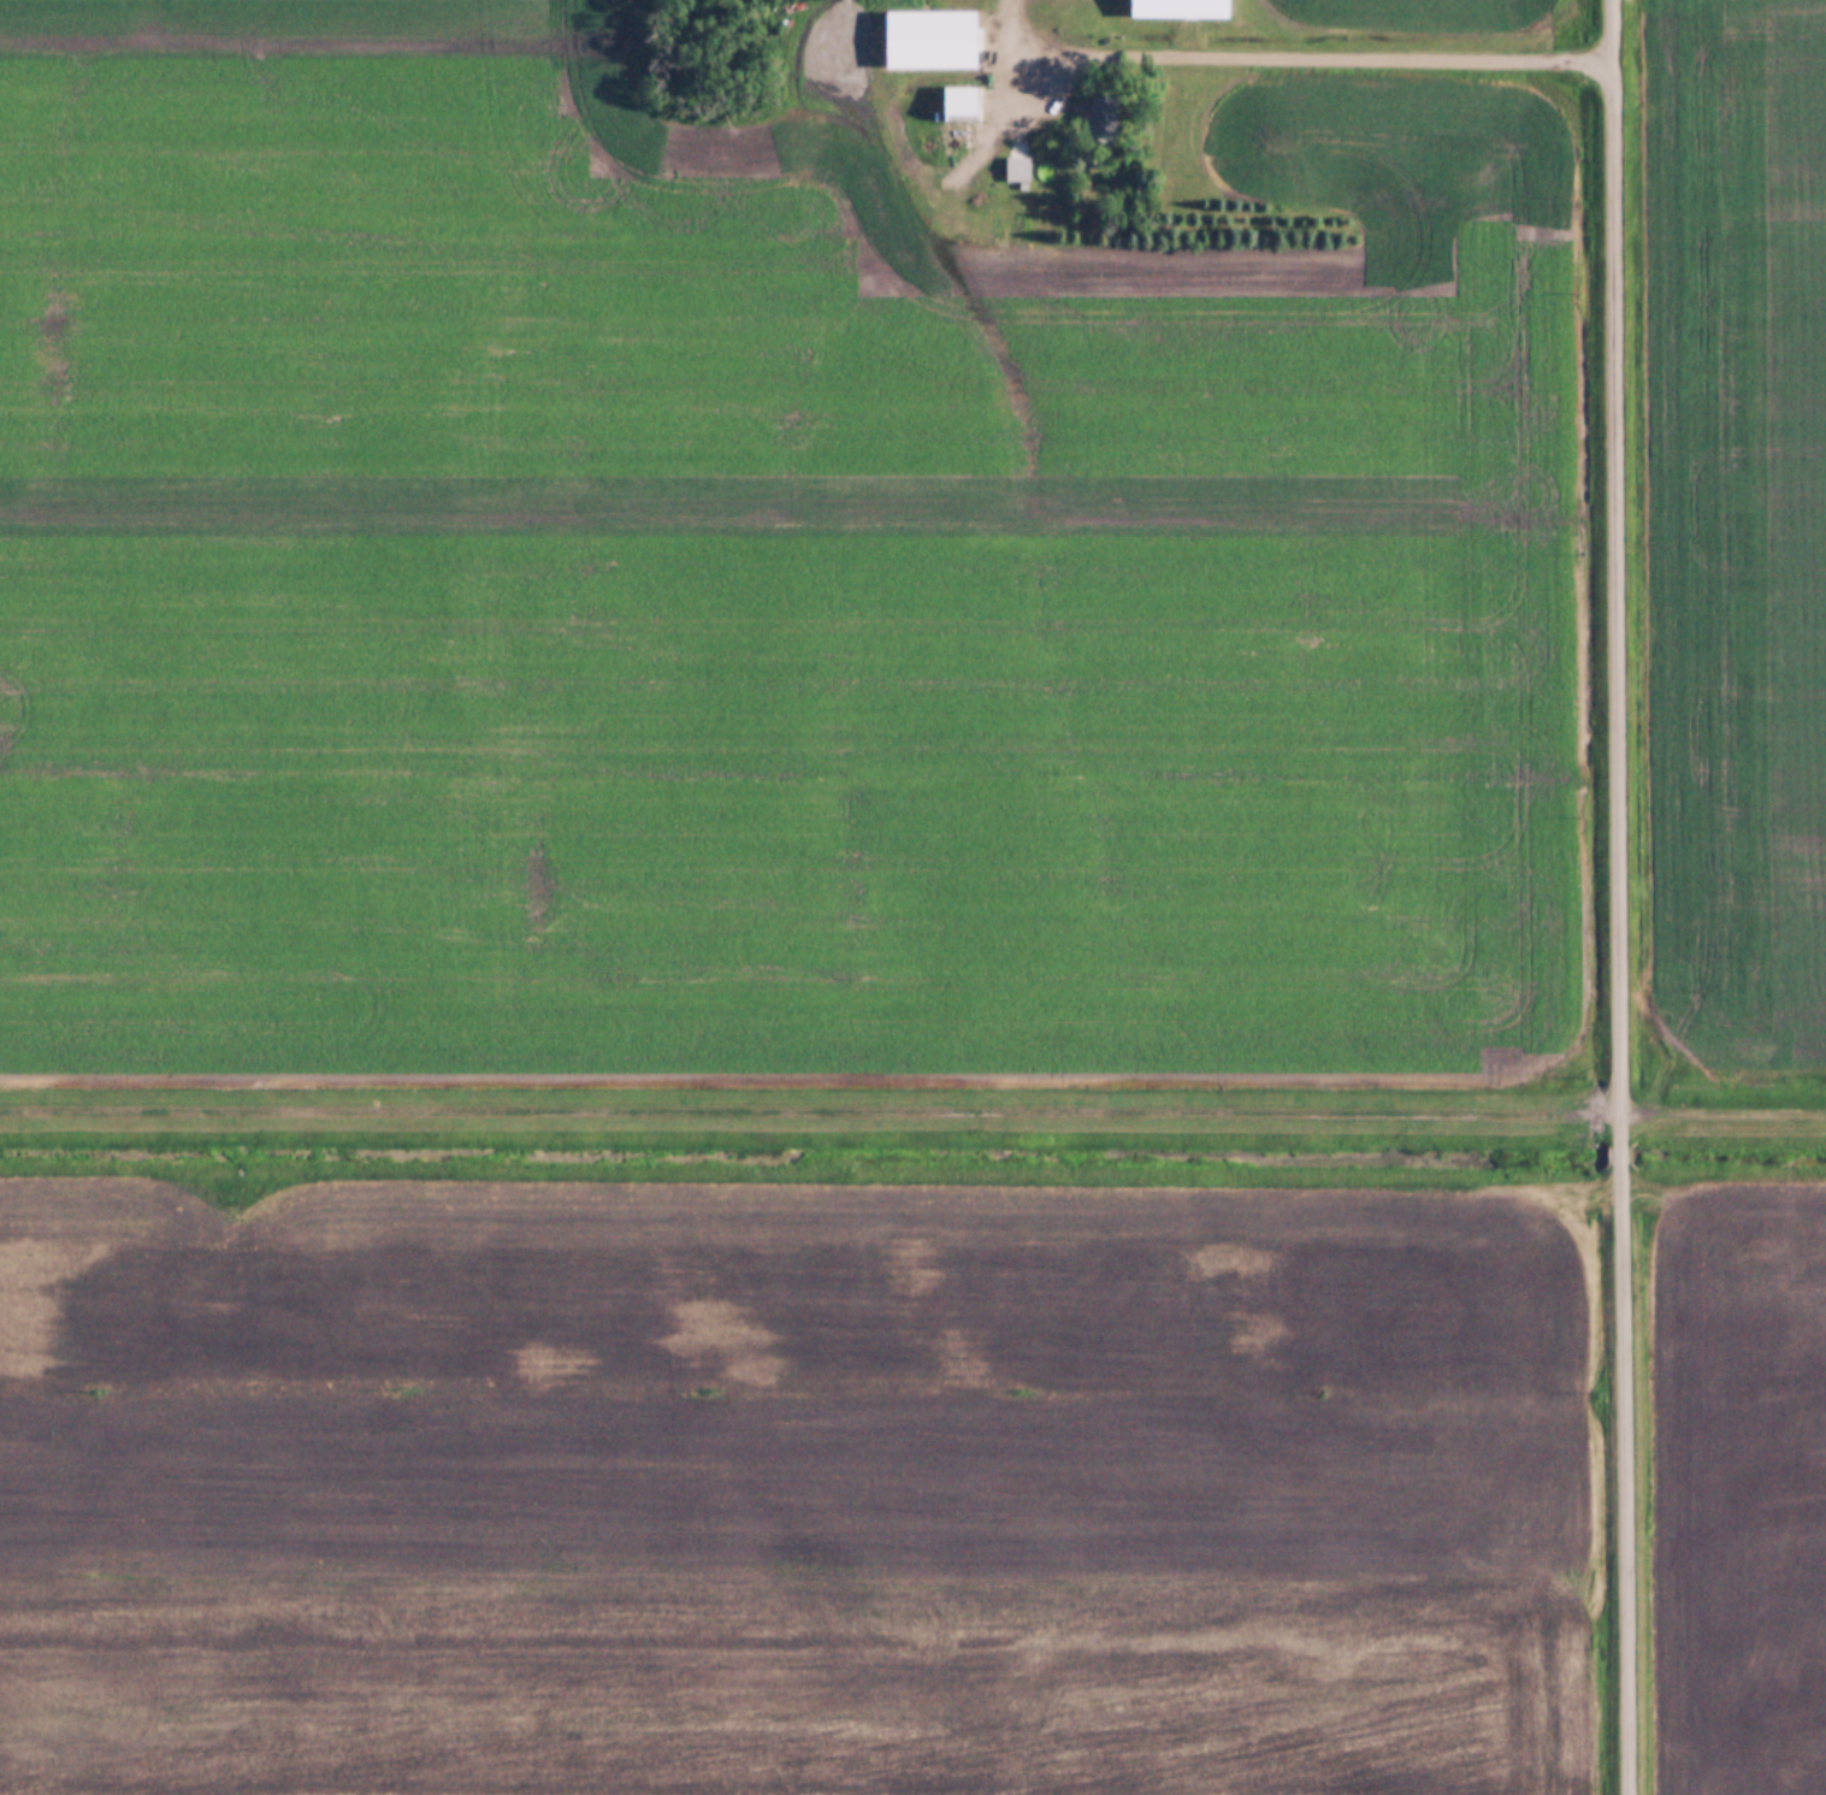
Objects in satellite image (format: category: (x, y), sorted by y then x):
building: (1182, 8)
road: (1010, 33)
building: (938, 42)
road: (1328, 52)
building: (963, 100)
crop: (323, 118)
road: (923, 165)
crop: (1741, 520)
road: (1618, 569)
crop: (814, 644)
road: (912, 1114)
road: (1625, 1152)
road: (1627, 1480)
crop: (794, 1483)
crop: (1742, 1495)

